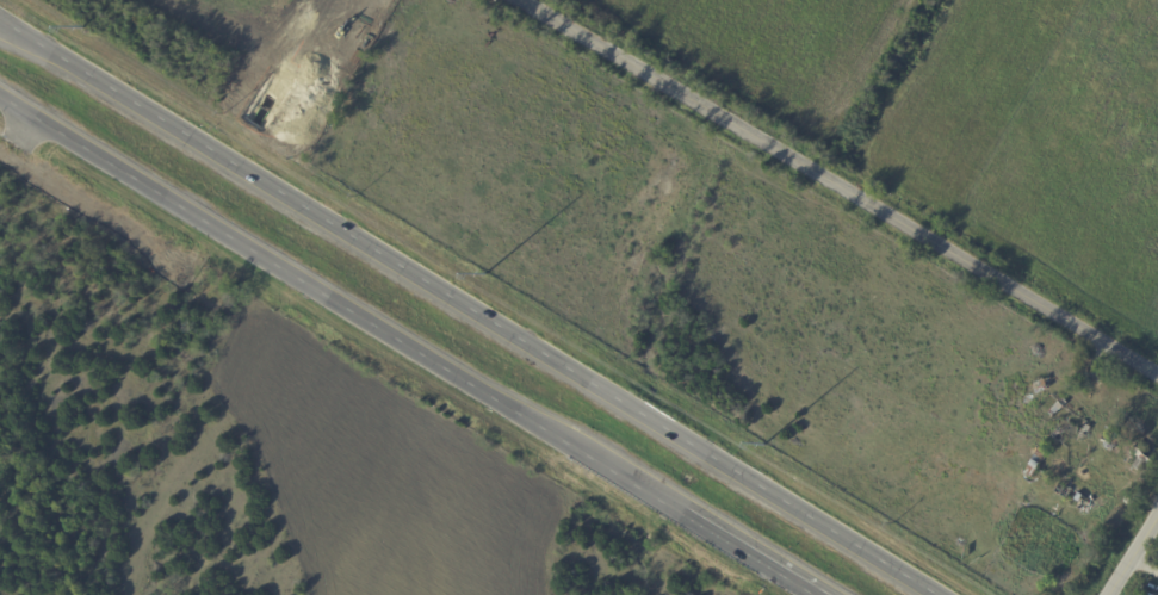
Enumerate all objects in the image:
road: (1, 20)
road: (842, 187)
road: (291, 274)
road: (470, 306)
building: (1042, 385)
building: (1060, 408)
building: (1132, 419)
building: (1083, 436)
building: (1123, 444)
building: (1146, 459)
building: (1054, 485)
building: (1085, 502)
building: (1119, 520)
road: (698, 525)
road: (1133, 554)
road: (1144, 566)
building: (1150, 593)

